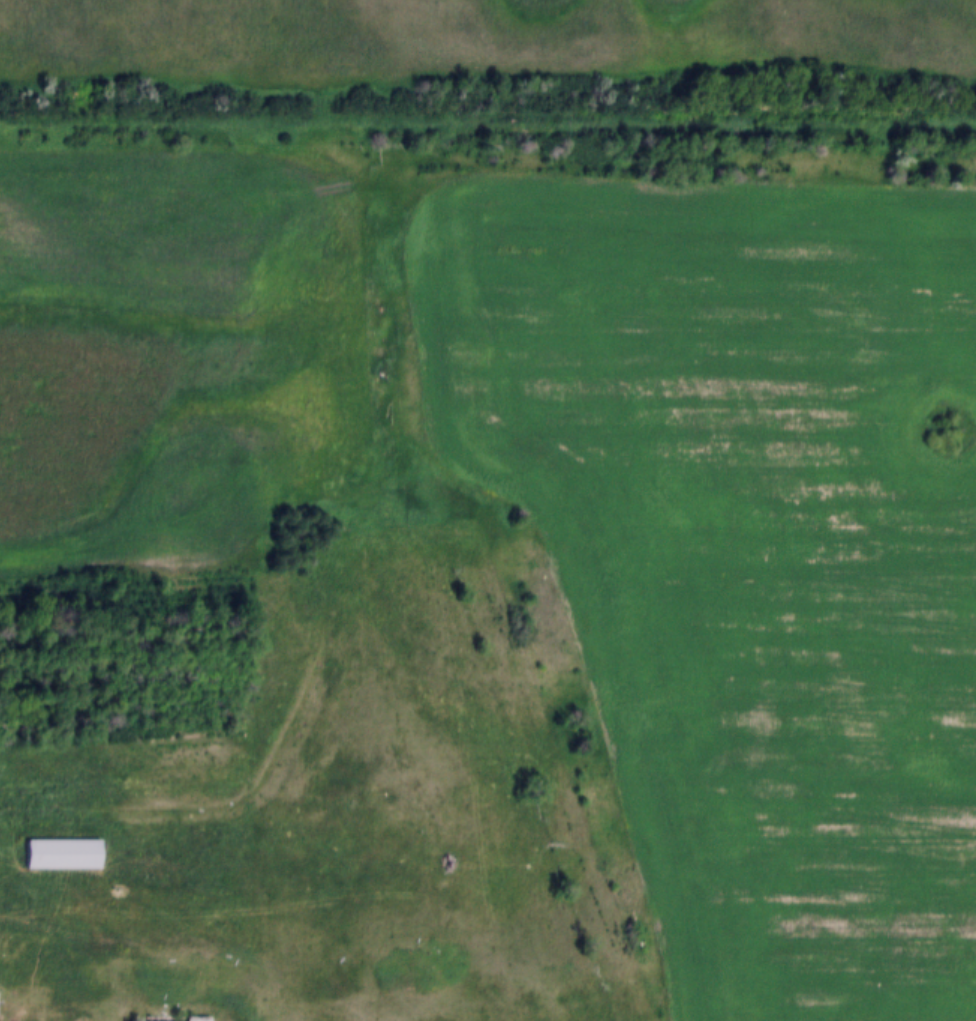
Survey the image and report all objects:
building: (61, 844)
building: (168, 1019)

